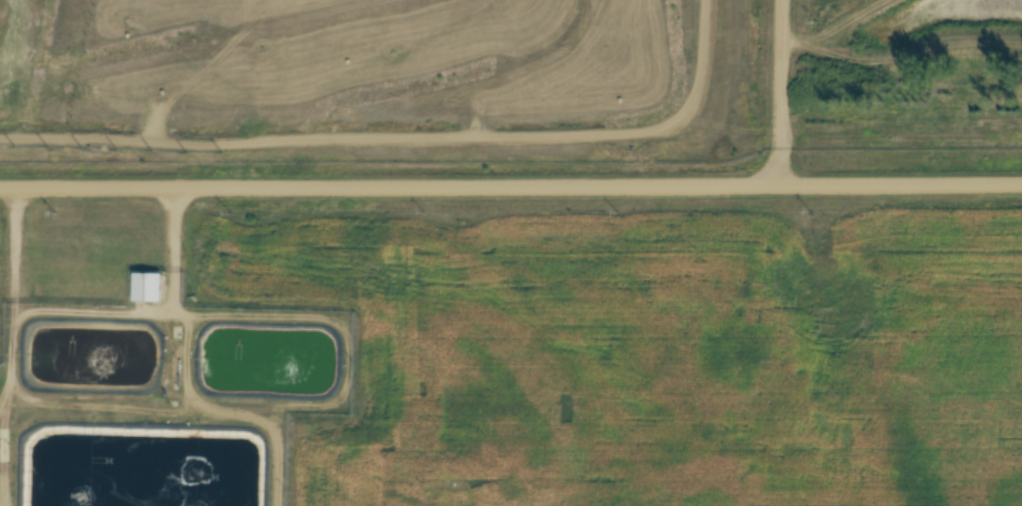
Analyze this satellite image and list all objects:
crop: (834, 8)
landfill: (43, 48)
road: (783, 92)
road: (407, 144)
road: (511, 185)
road: (175, 249)
building: (146, 290)

